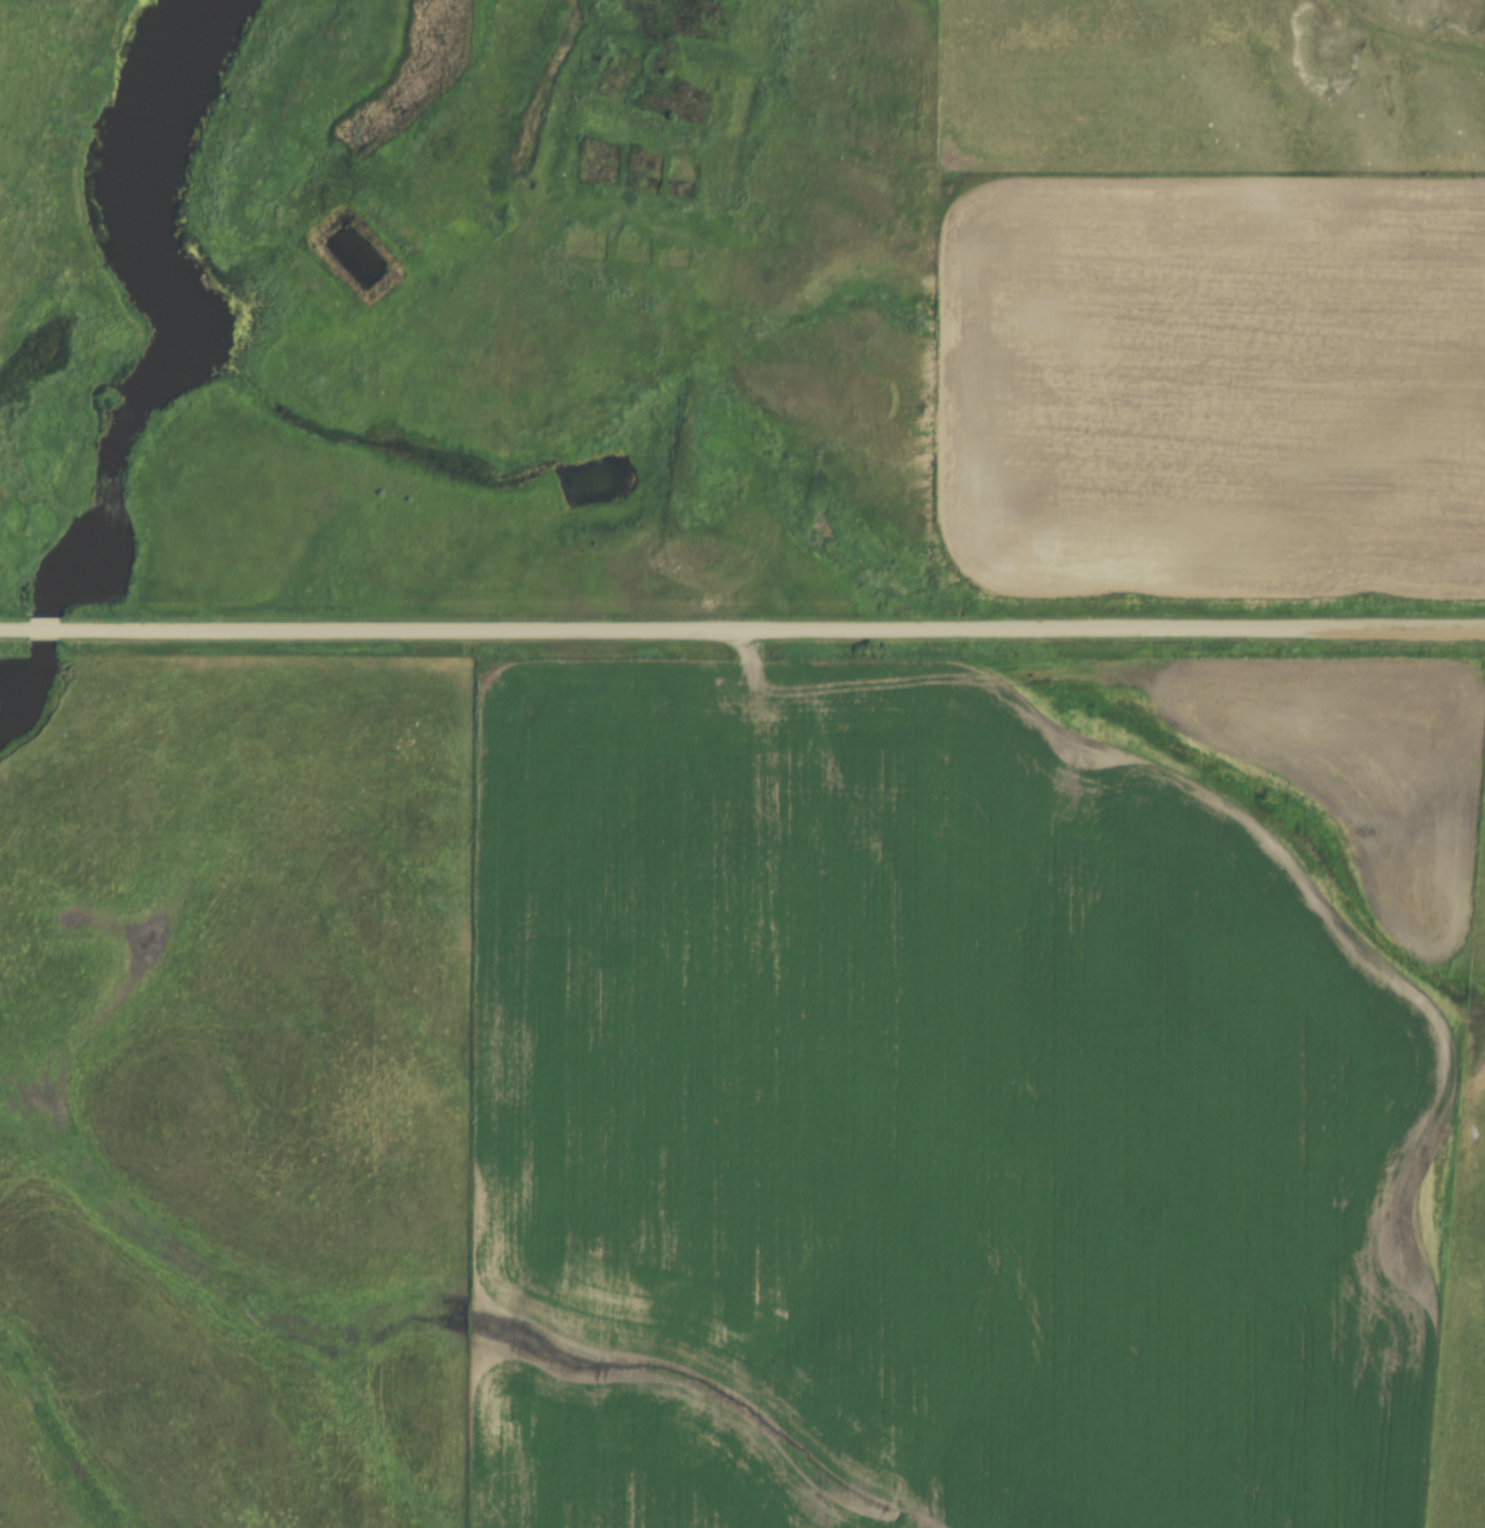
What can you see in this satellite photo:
river: (157, 368)
road: (765, 629)
road: (6, 632)
road: (29, 632)

